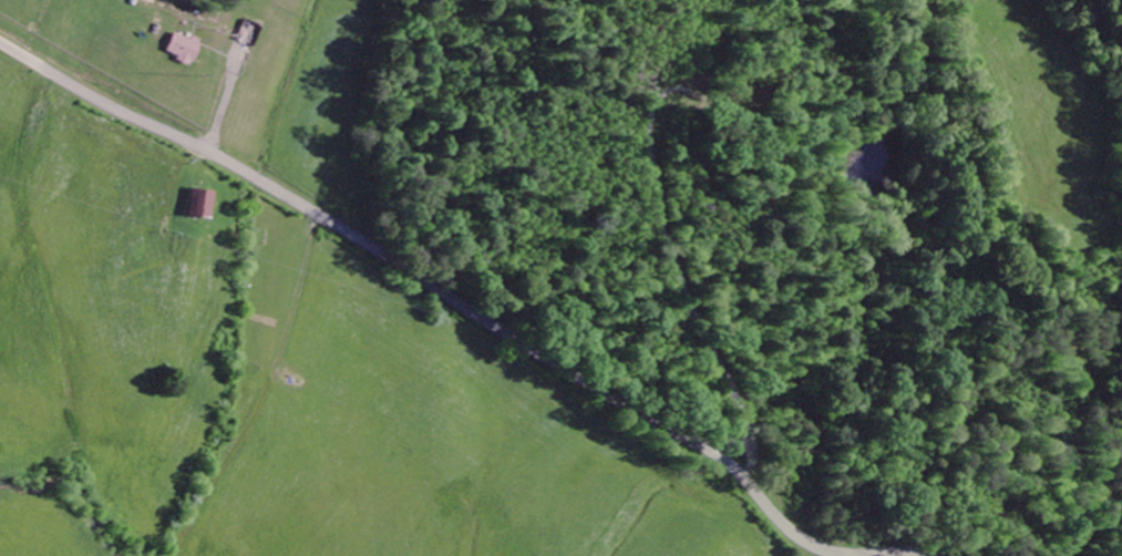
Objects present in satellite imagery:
building: (184, 48)
building: (199, 200)
road: (460, 303)

